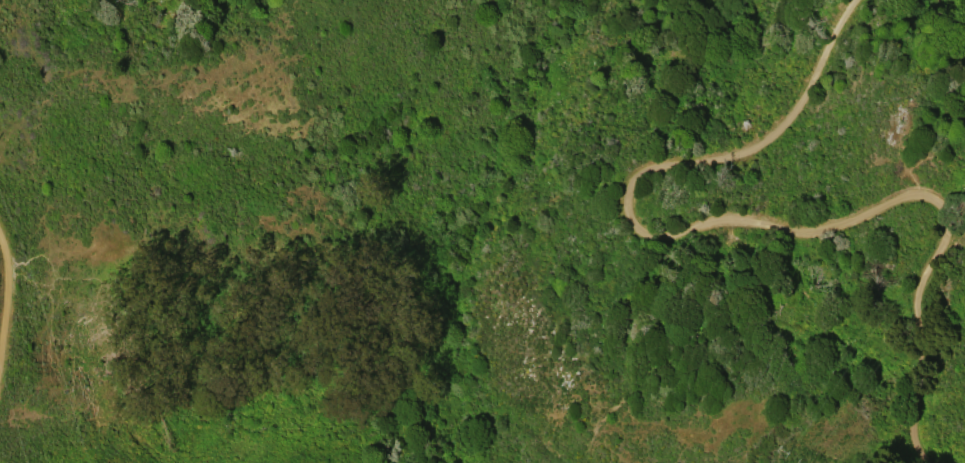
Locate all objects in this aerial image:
road: (749, 220)
road: (5, 299)

